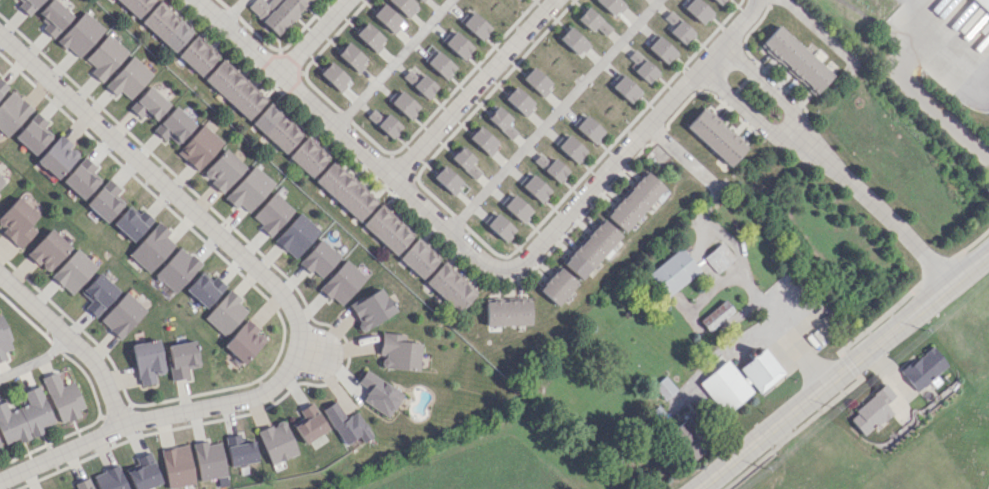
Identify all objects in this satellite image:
building: (421, 0)
building: (517, 0)
building: (718, 1)
building: (983, 4)
building: (28, 5)
building: (135, 6)
building: (404, 6)
building: (611, 6)
building: (697, 10)
road: (233, 11)
building: (276, 12)
building: (53, 17)
building: (387, 18)
road: (918, 18)
building: (592, 21)
building: (166, 26)
building: (476, 26)
building: (676, 26)
road: (817, 30)
building: (80, 34)
building: (369, 37)
road: (314, 38)
building: (574, 41)
building: (456, 44)
building: (661, 49)
building: (197, 55)
building: (104, 57)
building: (351, 57)
building: (795, 59)
road: (393, 63)
building: (438, 63)
building: (641, 67)
road: (897, 70)
building: (333, 76)
building: (128, 78)
building: (536, 81)
building: (419, 82)
road: (763, 83)
building: (2, 87)
road: (470, 88)
building: (234, 89)
building: (625, 89)
building: (519, 101)
building: (148, 104)
building: (404, 105)
road: (744, 106)
building: (12, 112)
road: (554, 114)
building: (501, 122)
building: (384, 123)
building: (173, 126)
building: (277, 127)
building: (588, 129)
building: (33, 134)
building: (716, 136)
building: (482, 140)
building: (199, 147)
building: (570, 148)
building: (308, 156)
building: (57, 157)
building: (464, 162)
building: (550, 167)
building: (222, 170)
building: (81, 179)
building: (1, 180)
building: (447, 180)
building: (535, 188)
building: (249, 189)
building: (345, 190)
building: (105, 201)
building: (634, 201)
road: (873, 207)
building: (517, 208)
building: (271, 213)
building: (17, 222)
building: (131, 222)
building: (500, 227)
building: (387, 229)
building: (296, 235)
building: (151, 247)
building: (591, 249)
building: (48, 250)
building: (718, 257)
building: (318, 258)
building: (418, 258)
road: (487, 261)
building: (176, 270)
building: (73, 271)
building: (673, 271)
building: (342, 283)
building: (557, 286)
building: (450, 287)
building: (204, 288)
building: (98, 294)
road: (283, 298)
road: (760, 302)
building: (371, 309)
building: (507, 312)
building: (225, 313)
building: (122, 315)
building: (715, 315)
building: (4, 341)
building: (244, 341)
road: (72, 344)
building: (398, 353)
road: (333, 358)
building: (181, 359)
building: (147, 361)
road: (35, 362)
road: (844, 368)
building: (924, 368)
building: (741, 381)
building: (379, 394)
building: (62, 397)
building: (871, 411)
building: (24, 417)
building: (309, 423)
building: (346, 424)
building: (687, 440)
building: (276, 442)
building: (239, 450)
building: (208, 460)
building: (177, 466)
building: (143, 473)
building: (110, 479)
building: (83, 484)

